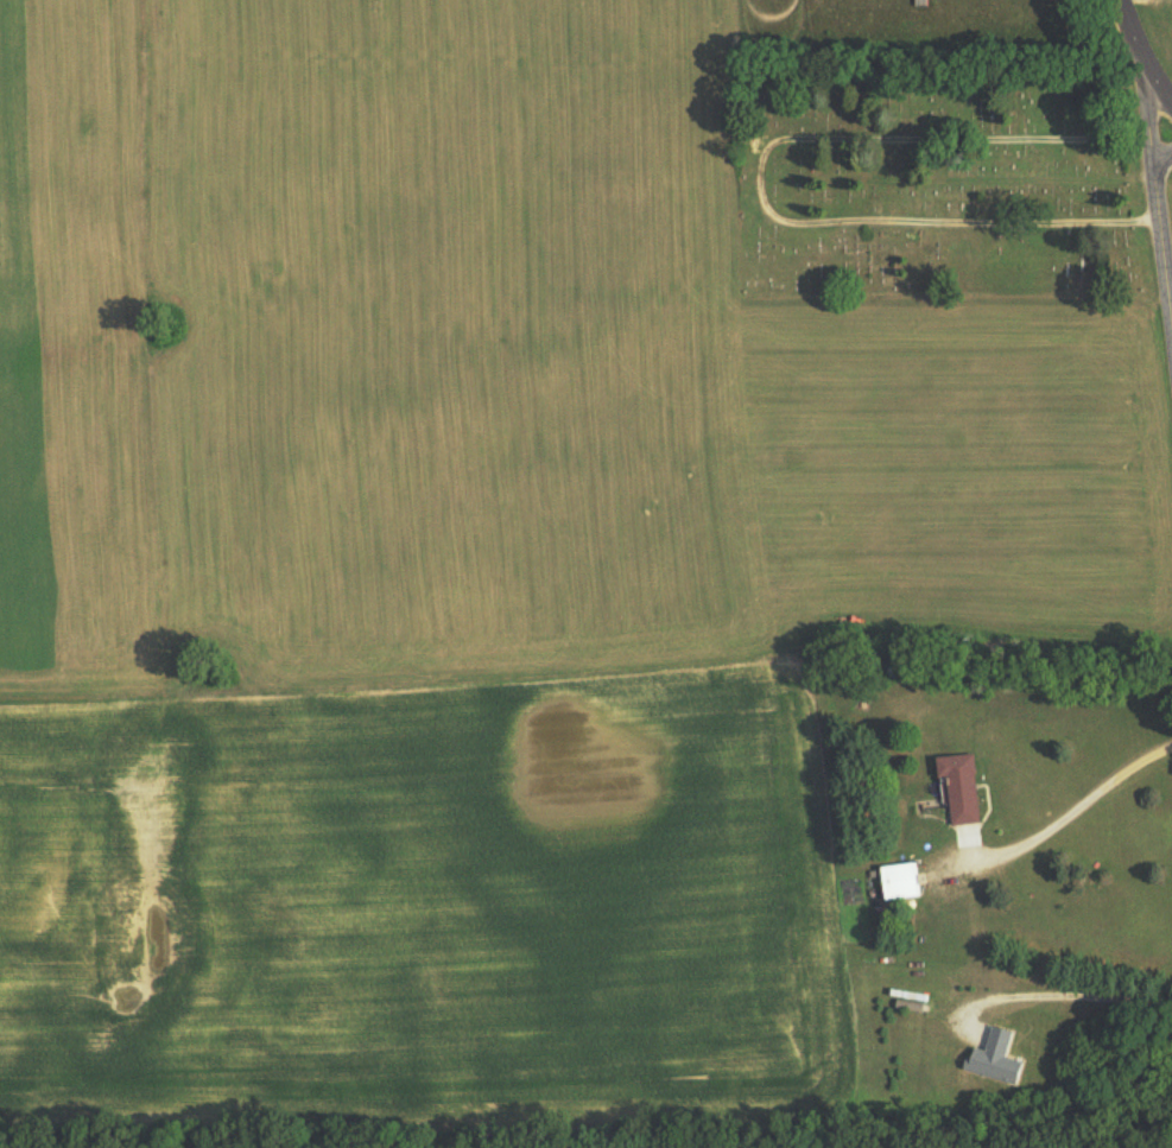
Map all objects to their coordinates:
road: (1138, 42)
road: (1164, 91)
park: (936, 177)
road: (1157, 199)
building: (961, 788)
road: (1071, 812)
building: (902, 882)
road: (1062, 985)

